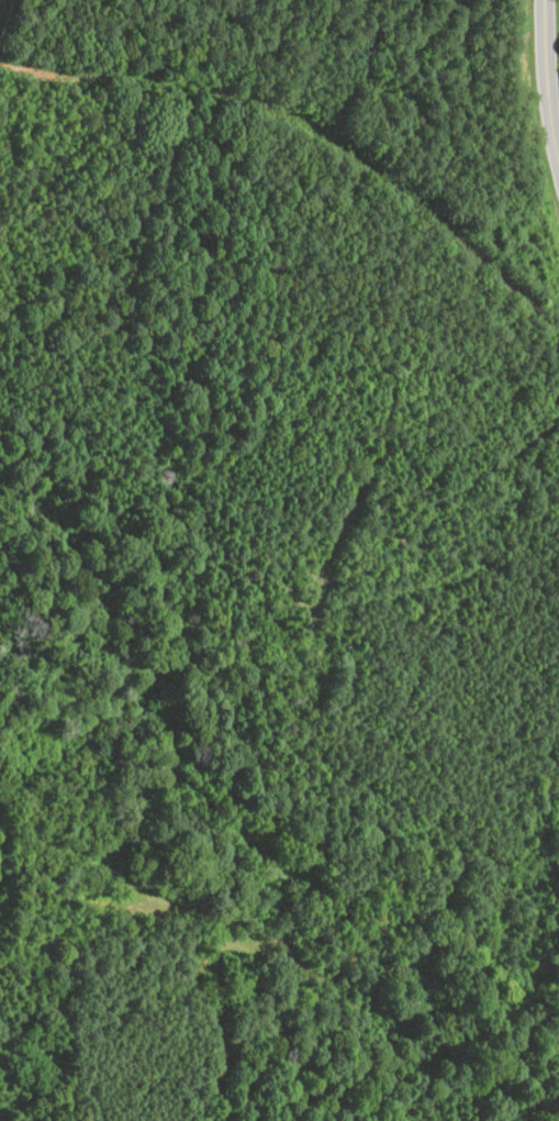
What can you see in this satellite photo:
road: (547, 81)
road: (183, 82)
road: (456, 237)

